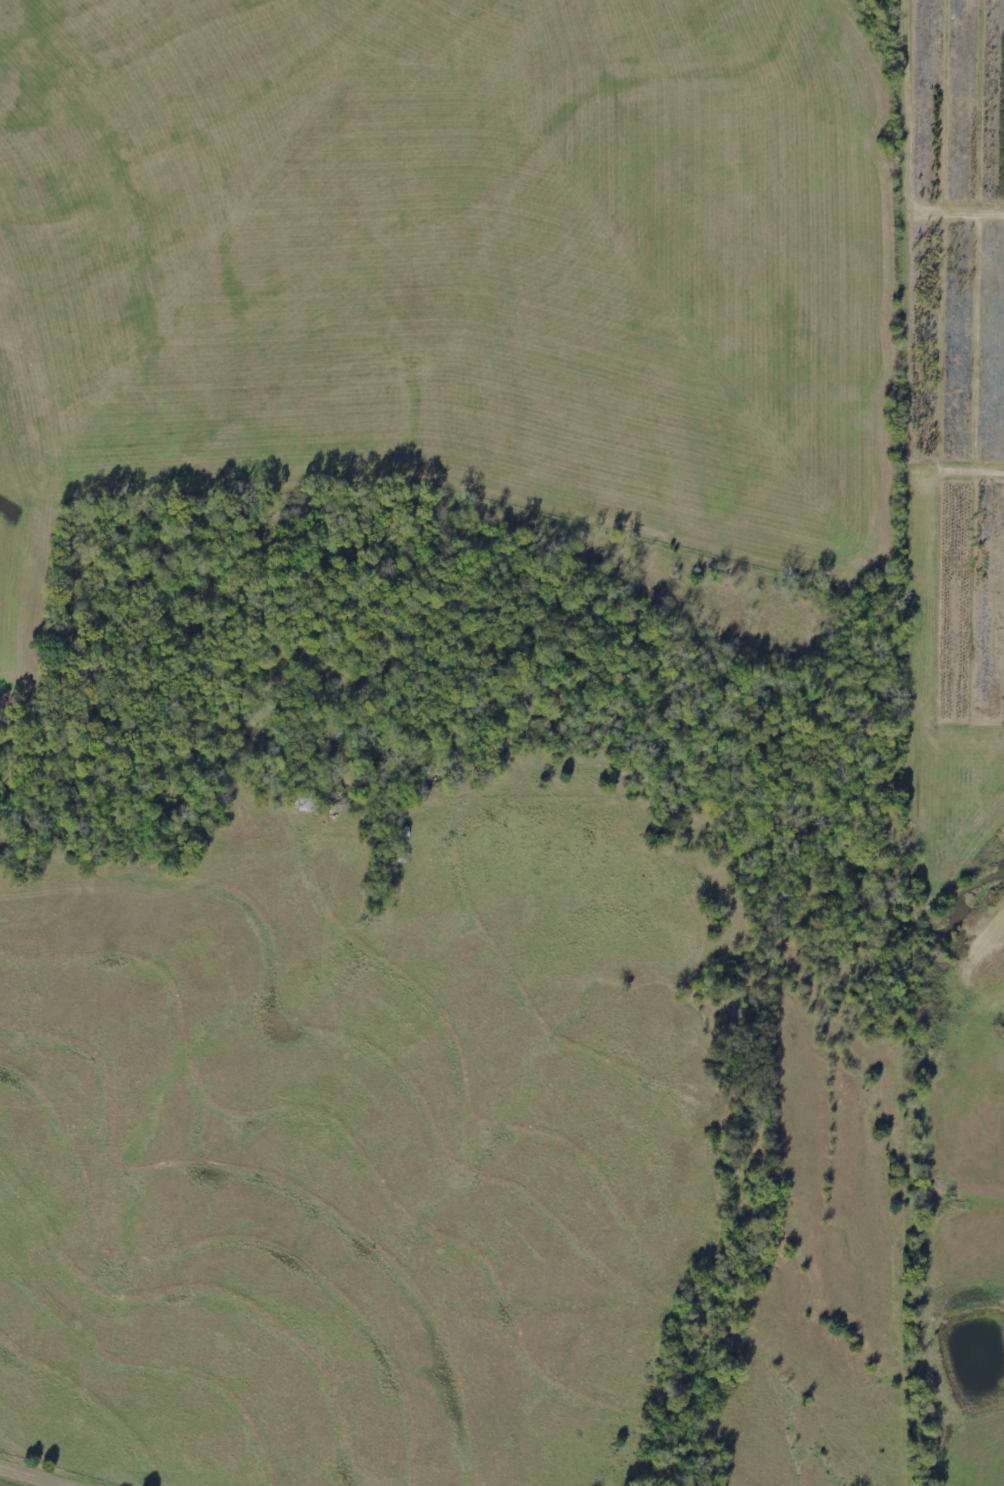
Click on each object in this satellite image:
road: (36, 1475)

